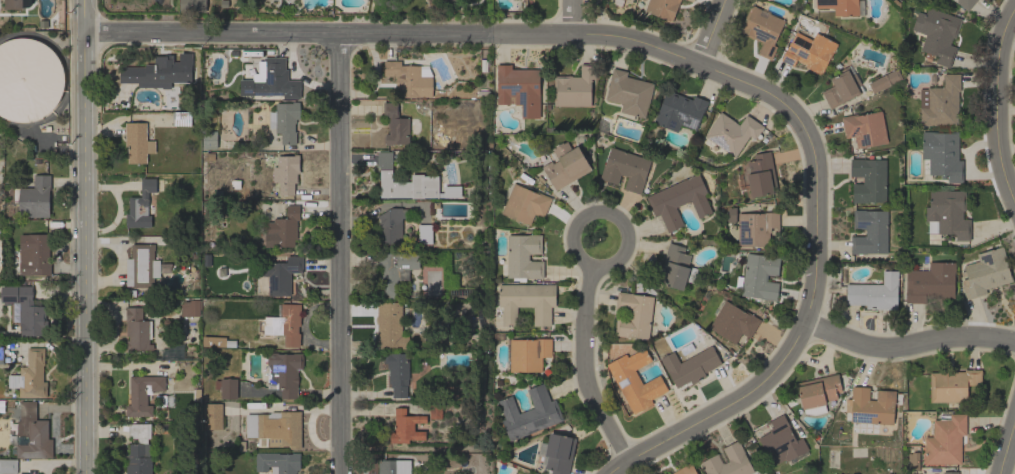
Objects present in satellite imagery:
building: (690, 0)
building: (965, 3)
building: (16, 4)
building: (192, 5)
building: (840, 6)
building: (662, 8)
road: (570, 16)
building: (761, 30)
road: (714, 32)
road: (272, 33)
building: (938, 35)
road: (642, 50)
building: (809, 51)
building: (155, 74)
building: (410, 78)
building: (28, 79)
storage tank: (28, 79)
building: (271, 80)
building: (884, 80)
building: (574, 87)
building: (841, 87)
building: (519, 88)
building: (629, 93)
building: (940, 102)
road: (999, 108)
building: (679, 111)
building: (181, 118)
building: (284, 121)
building: (397, 125)
building: (865, 129)
building: (732, 132)
building: (209, 140)
building: (137, 142)
building: (941, 155)
building: (565, 166)
building: (625, 169)
building: (286, 173)
building: (761, 175)
building: (868, 179)
building: (403, 181)
building: (450, 191)
building: (34, 197)
building: (679, 200)
building: (525, 204)
building: (140, 206)
building: (947, 214)
building: (391, 225)
building: (283, 227)
building: (756, 227)
building: (870, 232)
building: (424, 233)
road: (85, 236)
building: (33, 254)
road: (342, 254)
building: (523, 257)
building: (143, 266)
building: (676, 267)
building: (395, 270)
building: (985, 272)
building: (277, 276)
building: (761, 277)
building: (930, 282)
building: (875, 293)
building: (526, 302)
building: (190, 308)
building: (28, 313)
building: (633, 315)
building: (732, 321)
building: (284, 324)
building: (391, 325)
building: (136, 329)
building: (217, 341)
road: (910, 342)
road: (791, 347)
road: (585, 352)
building: (528, 354)
building: (1, 355)
building: (689, 366)
building: (284, 373)
building: (397, 373)
building: (30, 375)
building: (635, 380)
building: (952, 385)
building: (225, 388)
building: (818, 390)
building: (144, 393)
building: (870, 405)
building: (813, 410)
building: (435, 411)
building: (529, 413)
building: (213, 416)
building: (276, 427)
building: (406, 427)
building: (33, 433)
building: (945, 440)
building: (780, 441)
road: (1008, 447)
building: (139, 449)
building: (556, 452)
building: (912, 461)
building: (277, 462)
building: (728, 462)
building: (8, 465)
building: (393, 466)
building: (684, 470)
building: (950, 472)
building: (28, 473)

